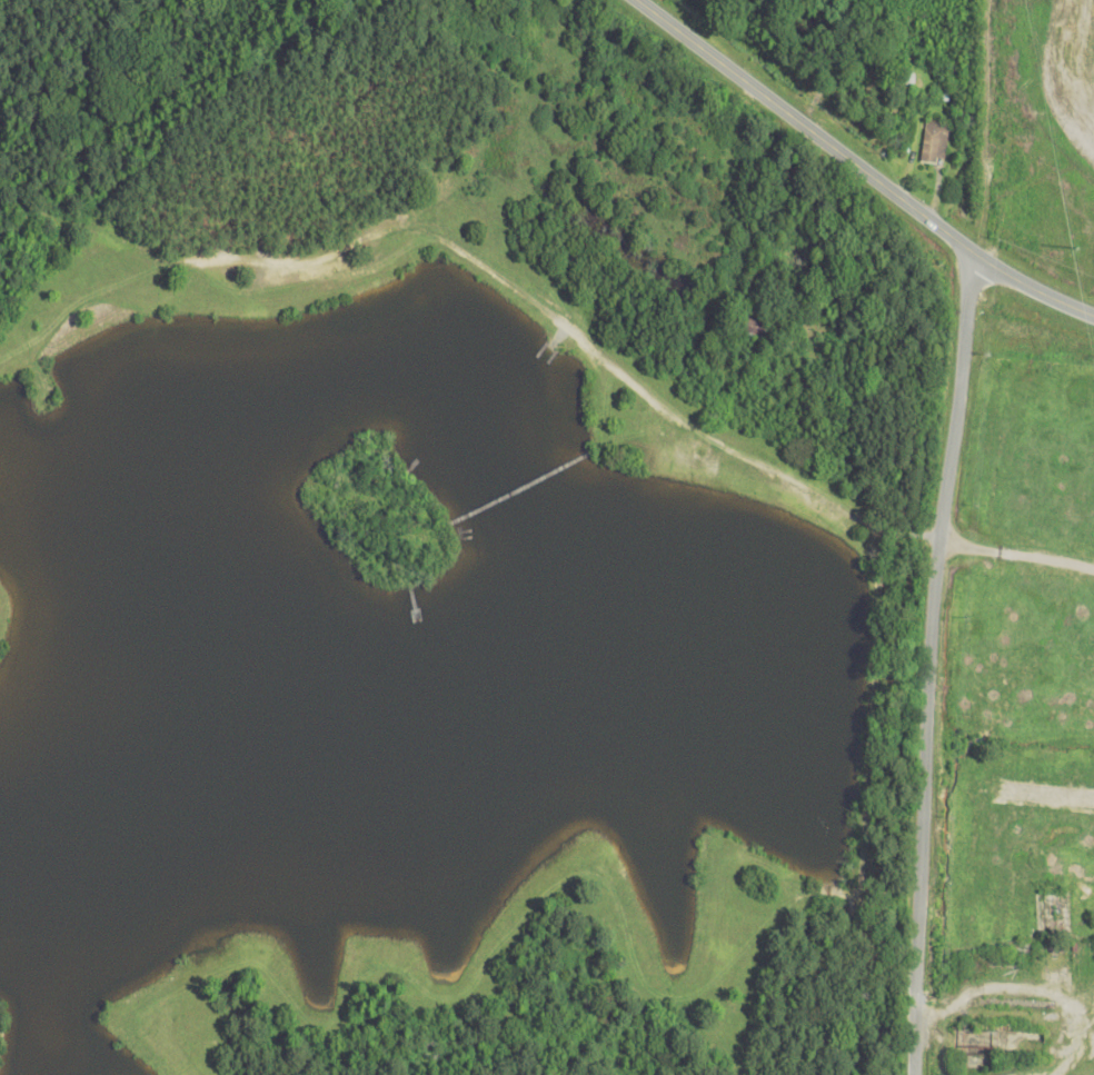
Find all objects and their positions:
building: (937, 142)
road: (859, 166)
road: (1017, 555)
road: (928, 663)
building: (981, 1062)

